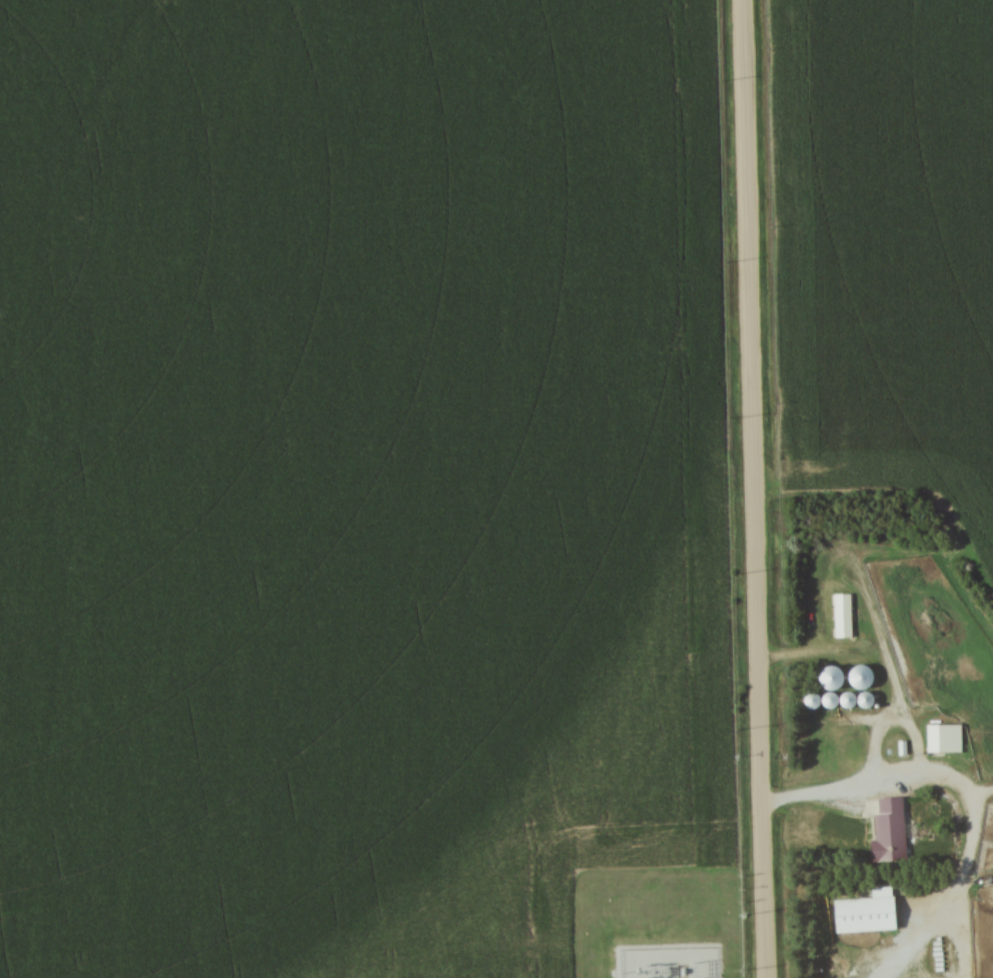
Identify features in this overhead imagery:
road: (755, 489)
building: (840, 617)
building: (818, 671)
silo: (818, 671)
building: (848, 672)
silo: (848, 672)
building: (856, 679)
building: (799, 692)
silo: (799, 692)
building: (816, 692)
building: (820, 692)
building: (836, 693)
silo: (836, 693)
building: (852, 693)
silo: (852, 693)
building: (940, 739)
road: (975, 802)
building: (885, 833)
building: (860, 916)

